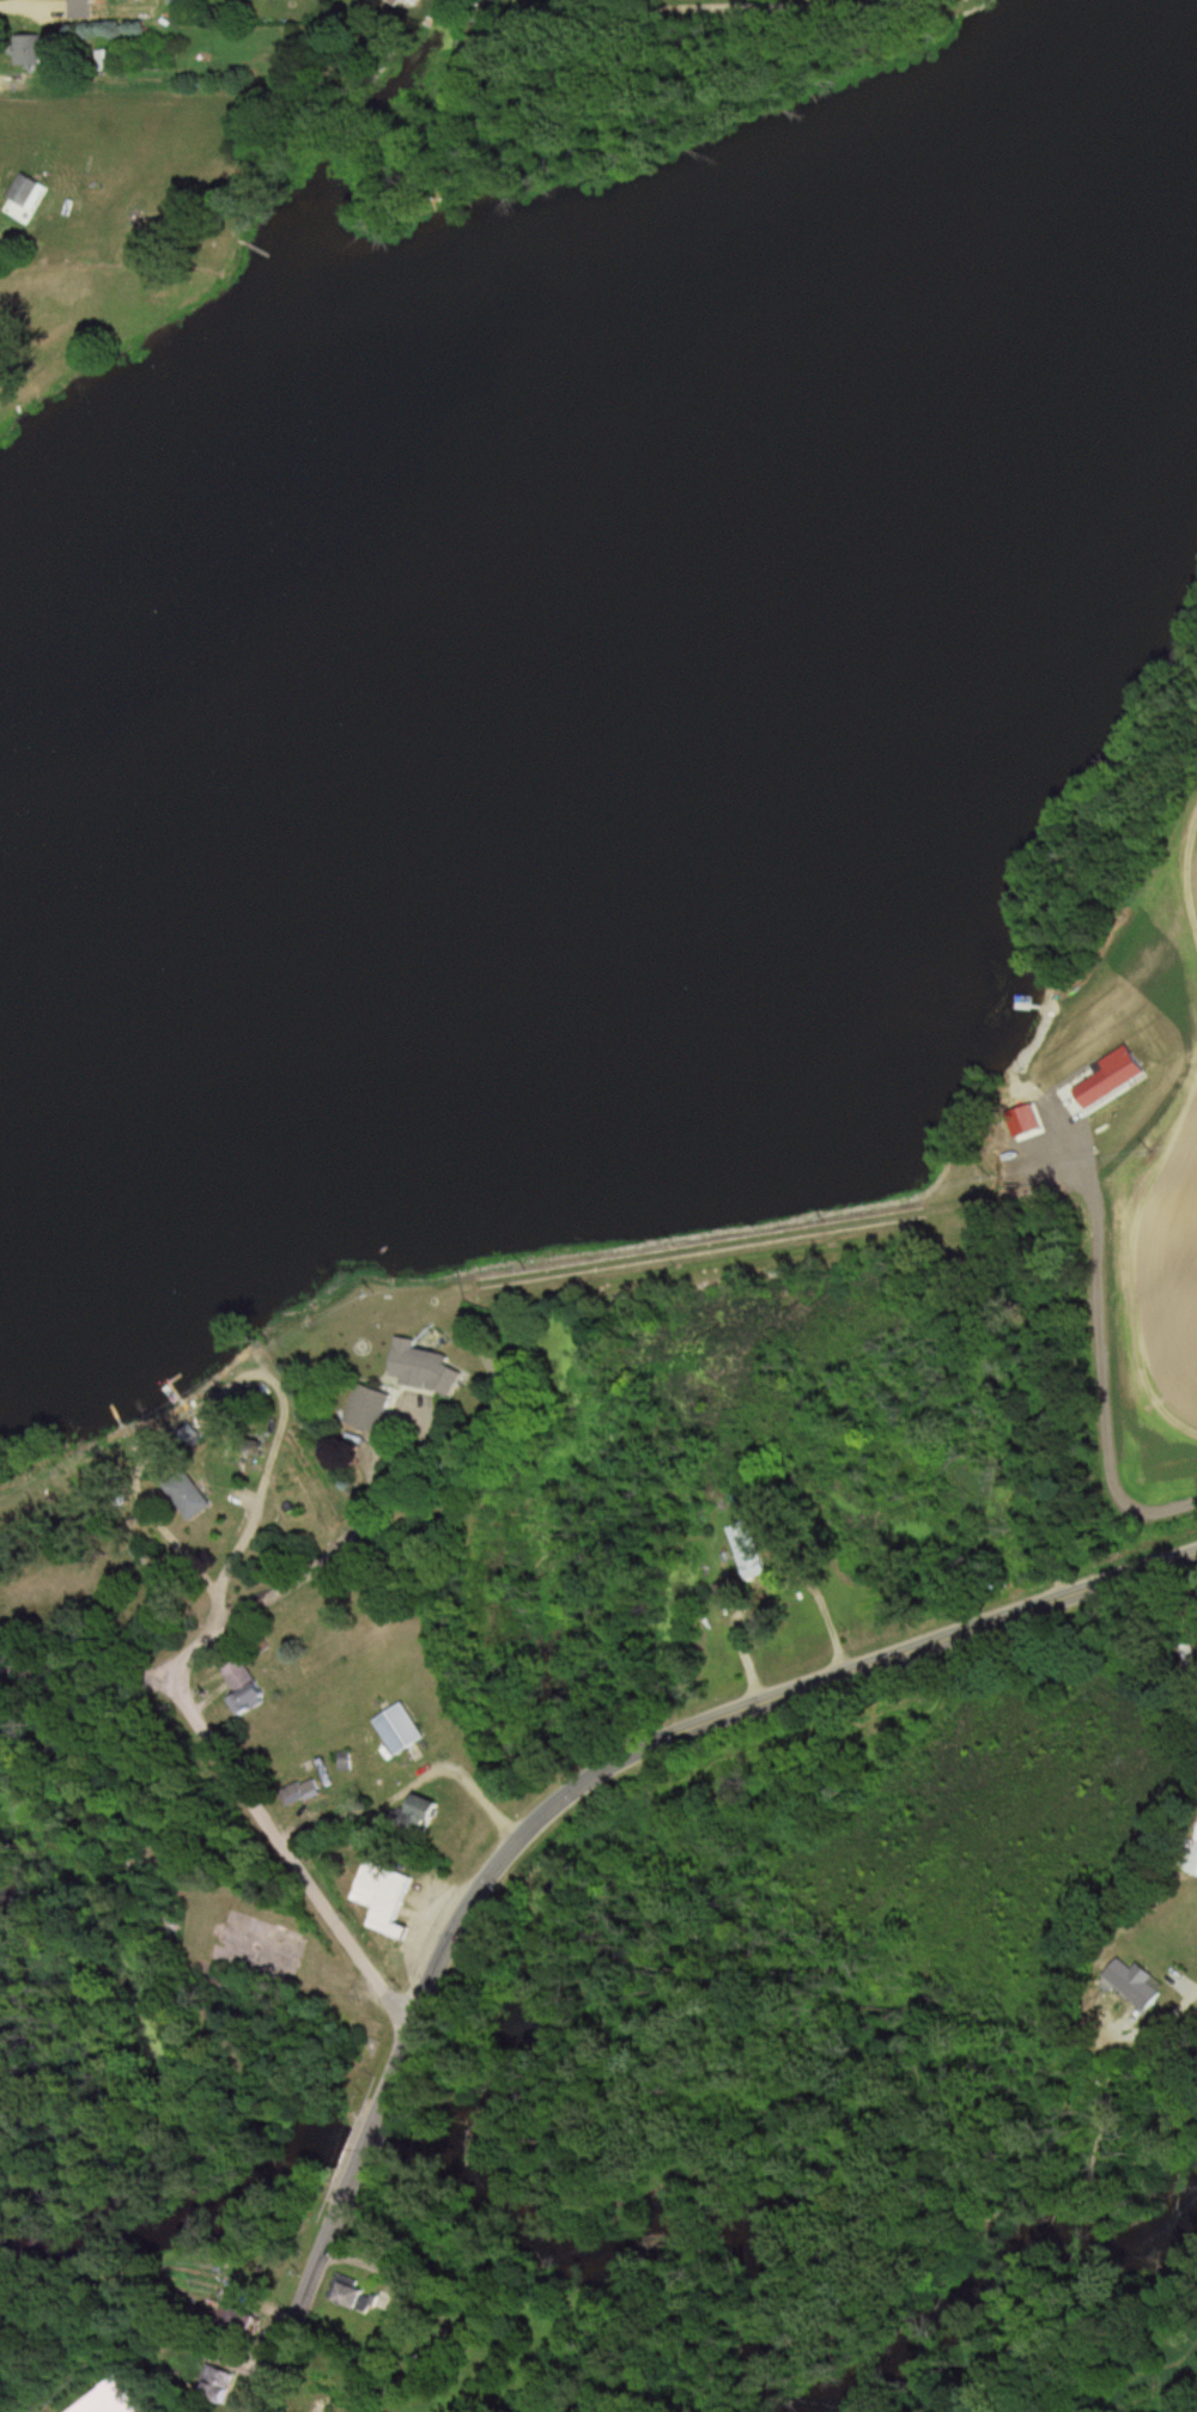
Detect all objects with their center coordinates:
building: (403, 0)
building: (80, 4)
road: (731, 11)
building: (29, 49)
building: (110, 60)
building: (28, 192)
river: (627, 634)
building: (448, 1379)
road: (389, 1459)
building: (190, 1497)
building: (740, 1566)
road: (221, 1568)
road: (275, 1600)
road: (966, 1632)
road: (86, 1667)
building: (253, 1697)
building: (401, 1729)
road: (468, 1790)
building: (303, 1791)
building: (424, 1811)
road: (499, 1853)
road: (285, 1854)
building: (382, 1897)
building: (1138, 1983)
road: (1190, 1991)
road: (353, 2167)
river: (678, 2212)
building: (352, 2295)
building: (243, 2320)
road: (293, 2322)
building: (217, 2386)
building: (116, 2399)

